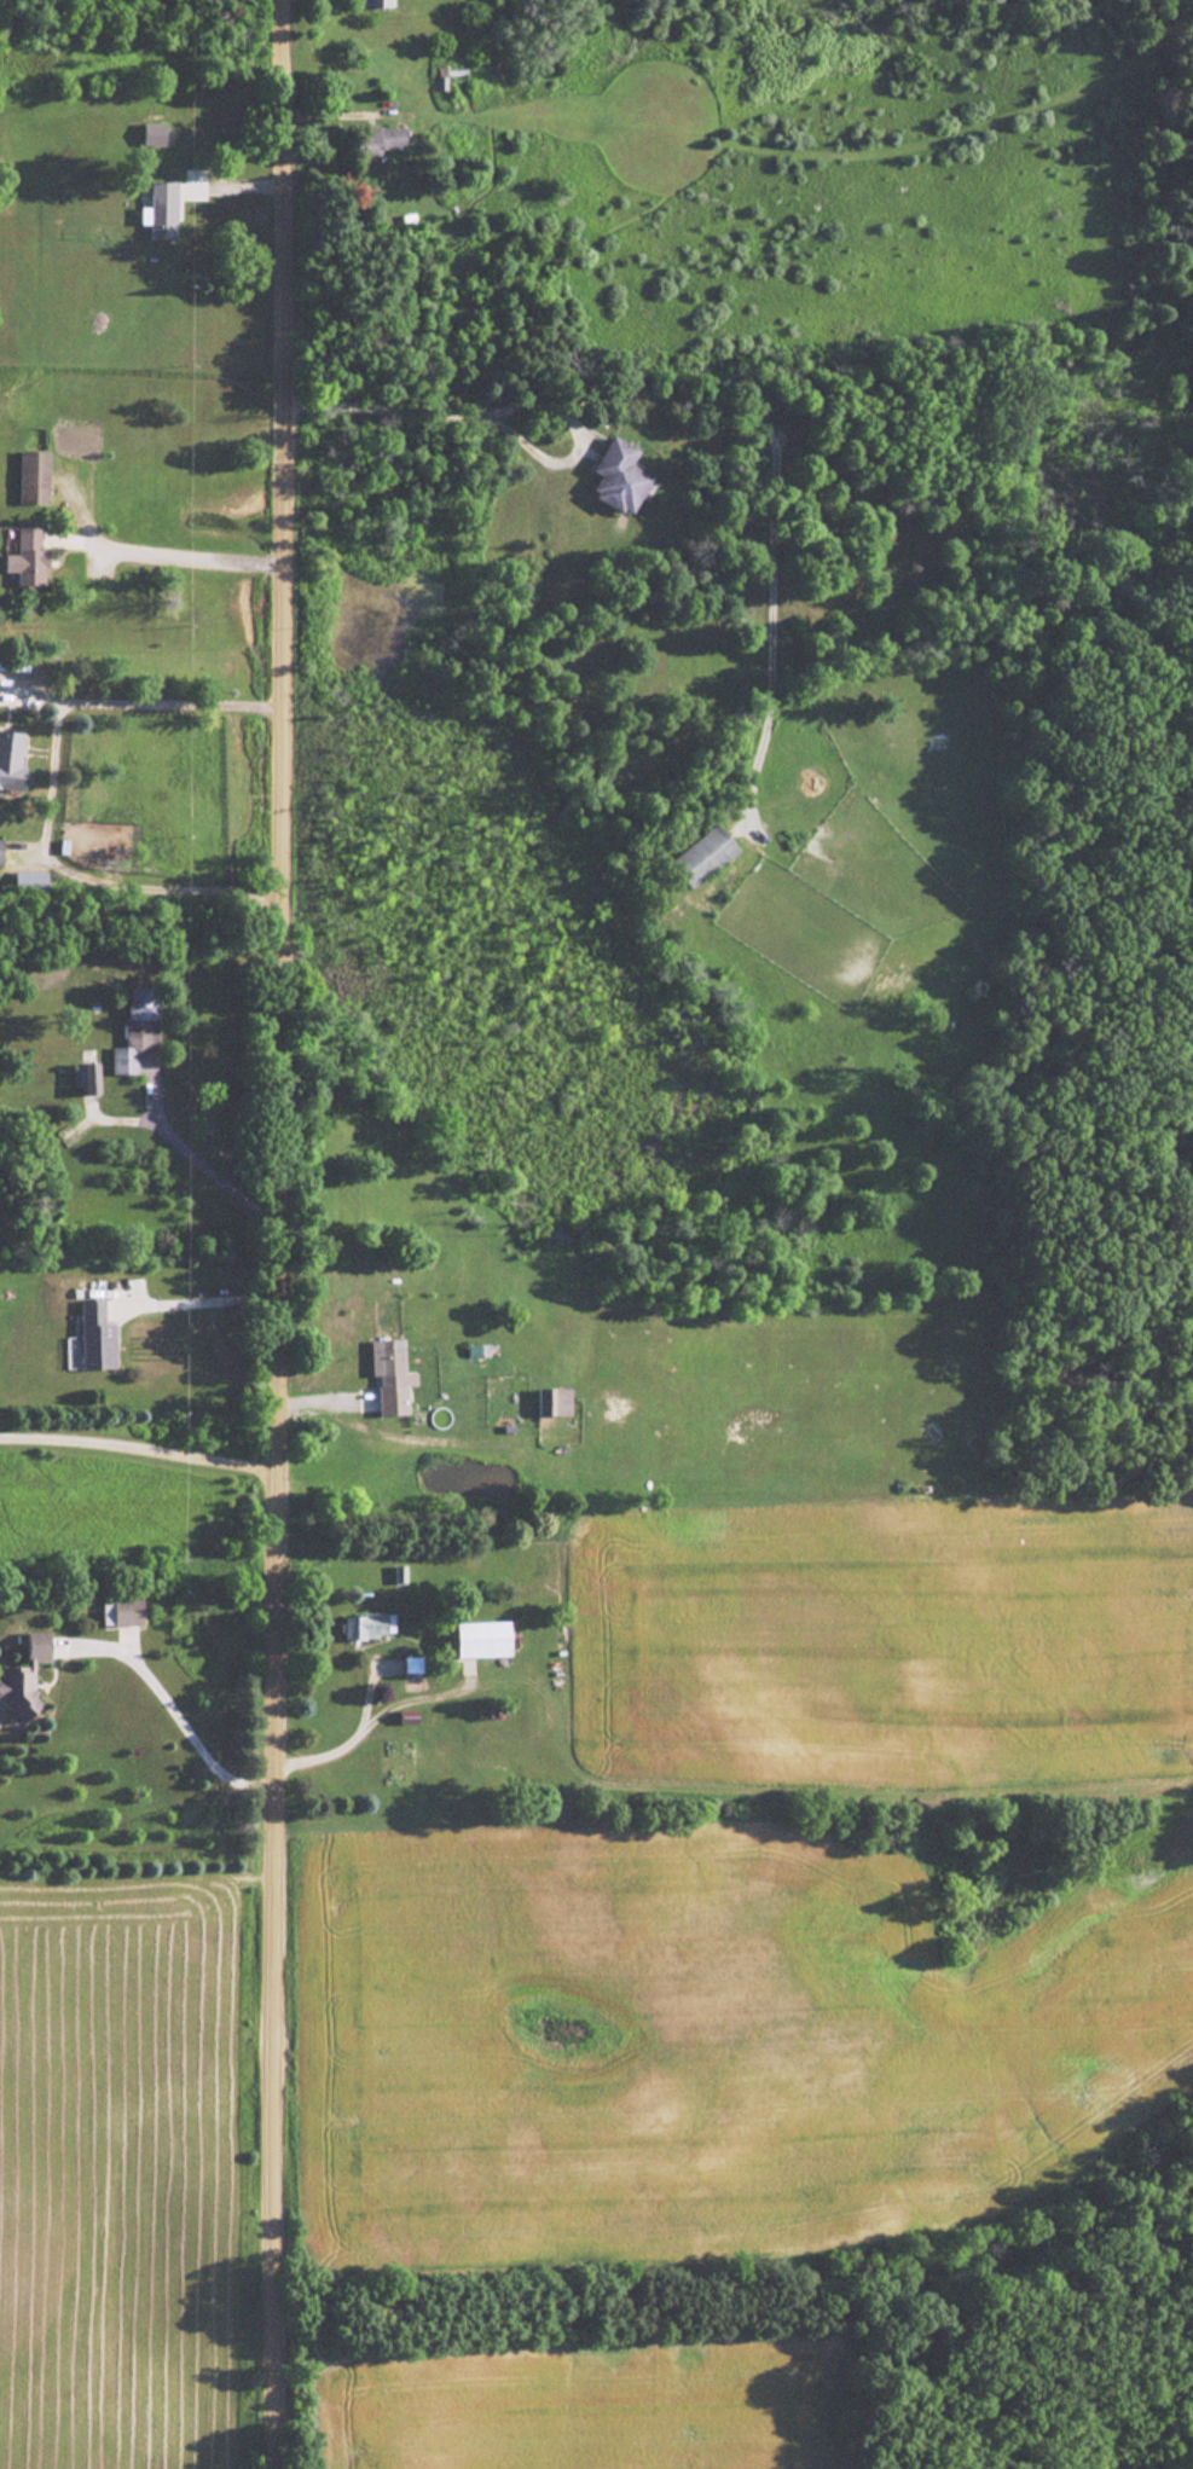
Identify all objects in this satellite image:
building: (382, 2)
building: (386, 137)
building: (166, 214)
road: (719, 400)
building: (36, 477)
building: (624, 477)
road: (174, 545)
building: (31, 558)
building: (13, 761)
road: (44, 789)
building: (1, 851)
building: (700, 856)
building: (28, 881)
building: (139, 1030)
building: (87, 1078)
road: (212, 1175)
road: (280, 1234)
road: (203, 1302)
building: (99, 1335)
building: (393, 1379)
building: (555, 1402)
road: (140, 1442)
building: (129, 1612)
building: (369, 1625)
building: (488, 1641)
crop: (885, 1641)
building: (29, 1676)
building: (410, 1685)
road: (174, 1715)
road: (347, 1734)
crop: (701, 2035)
crop: (117, 2175)
crop: (583, 2412)

